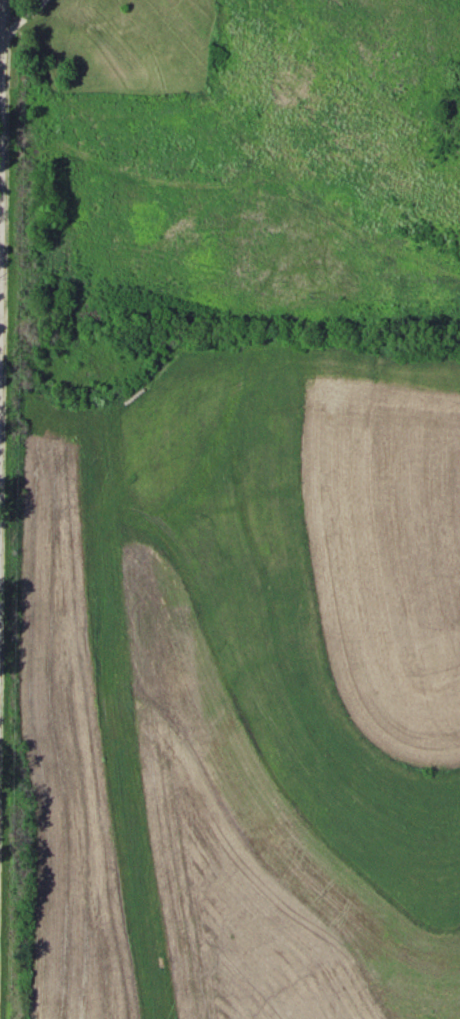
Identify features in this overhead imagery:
road: (4, 307)

